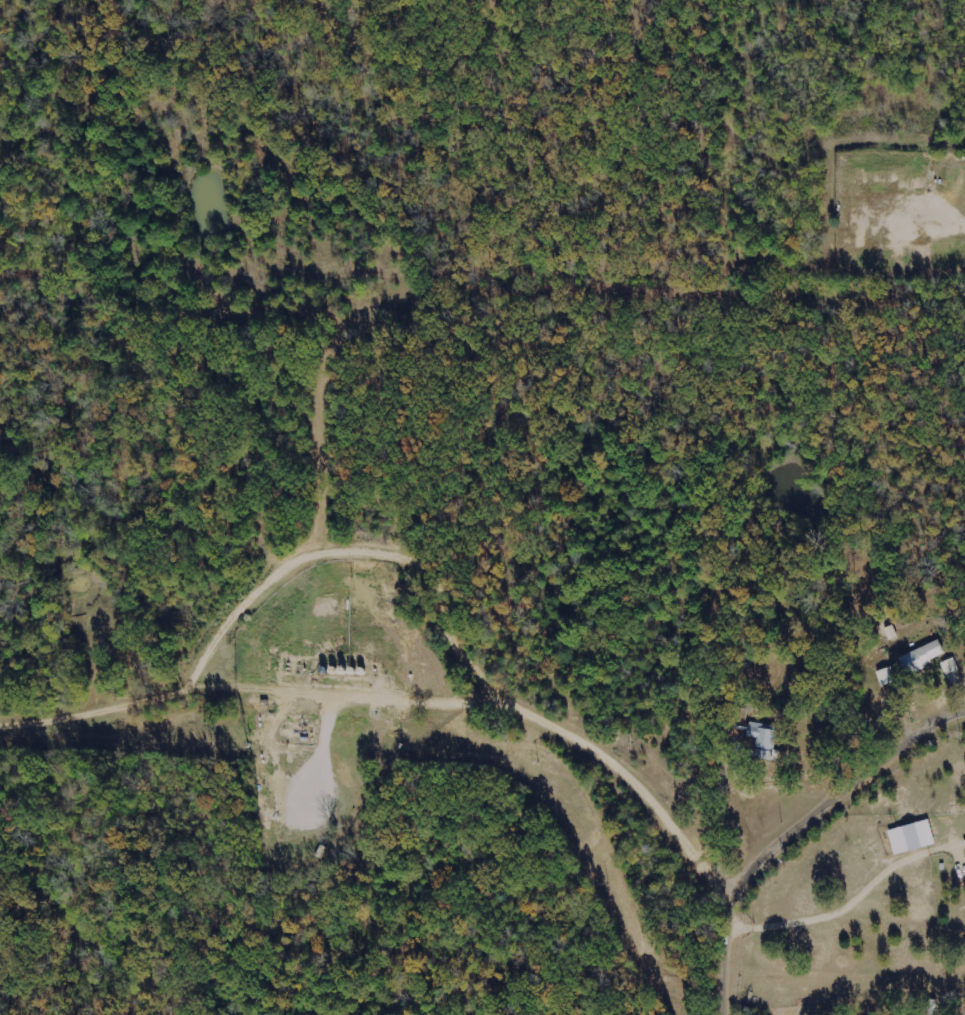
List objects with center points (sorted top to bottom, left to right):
park: (371, 145)
building: (921, 656)
building: (949, 666)
building: (763, 741)
road: (860, 788)
building: (908, 838)
road: (858, 891)
road: (734, 938)

